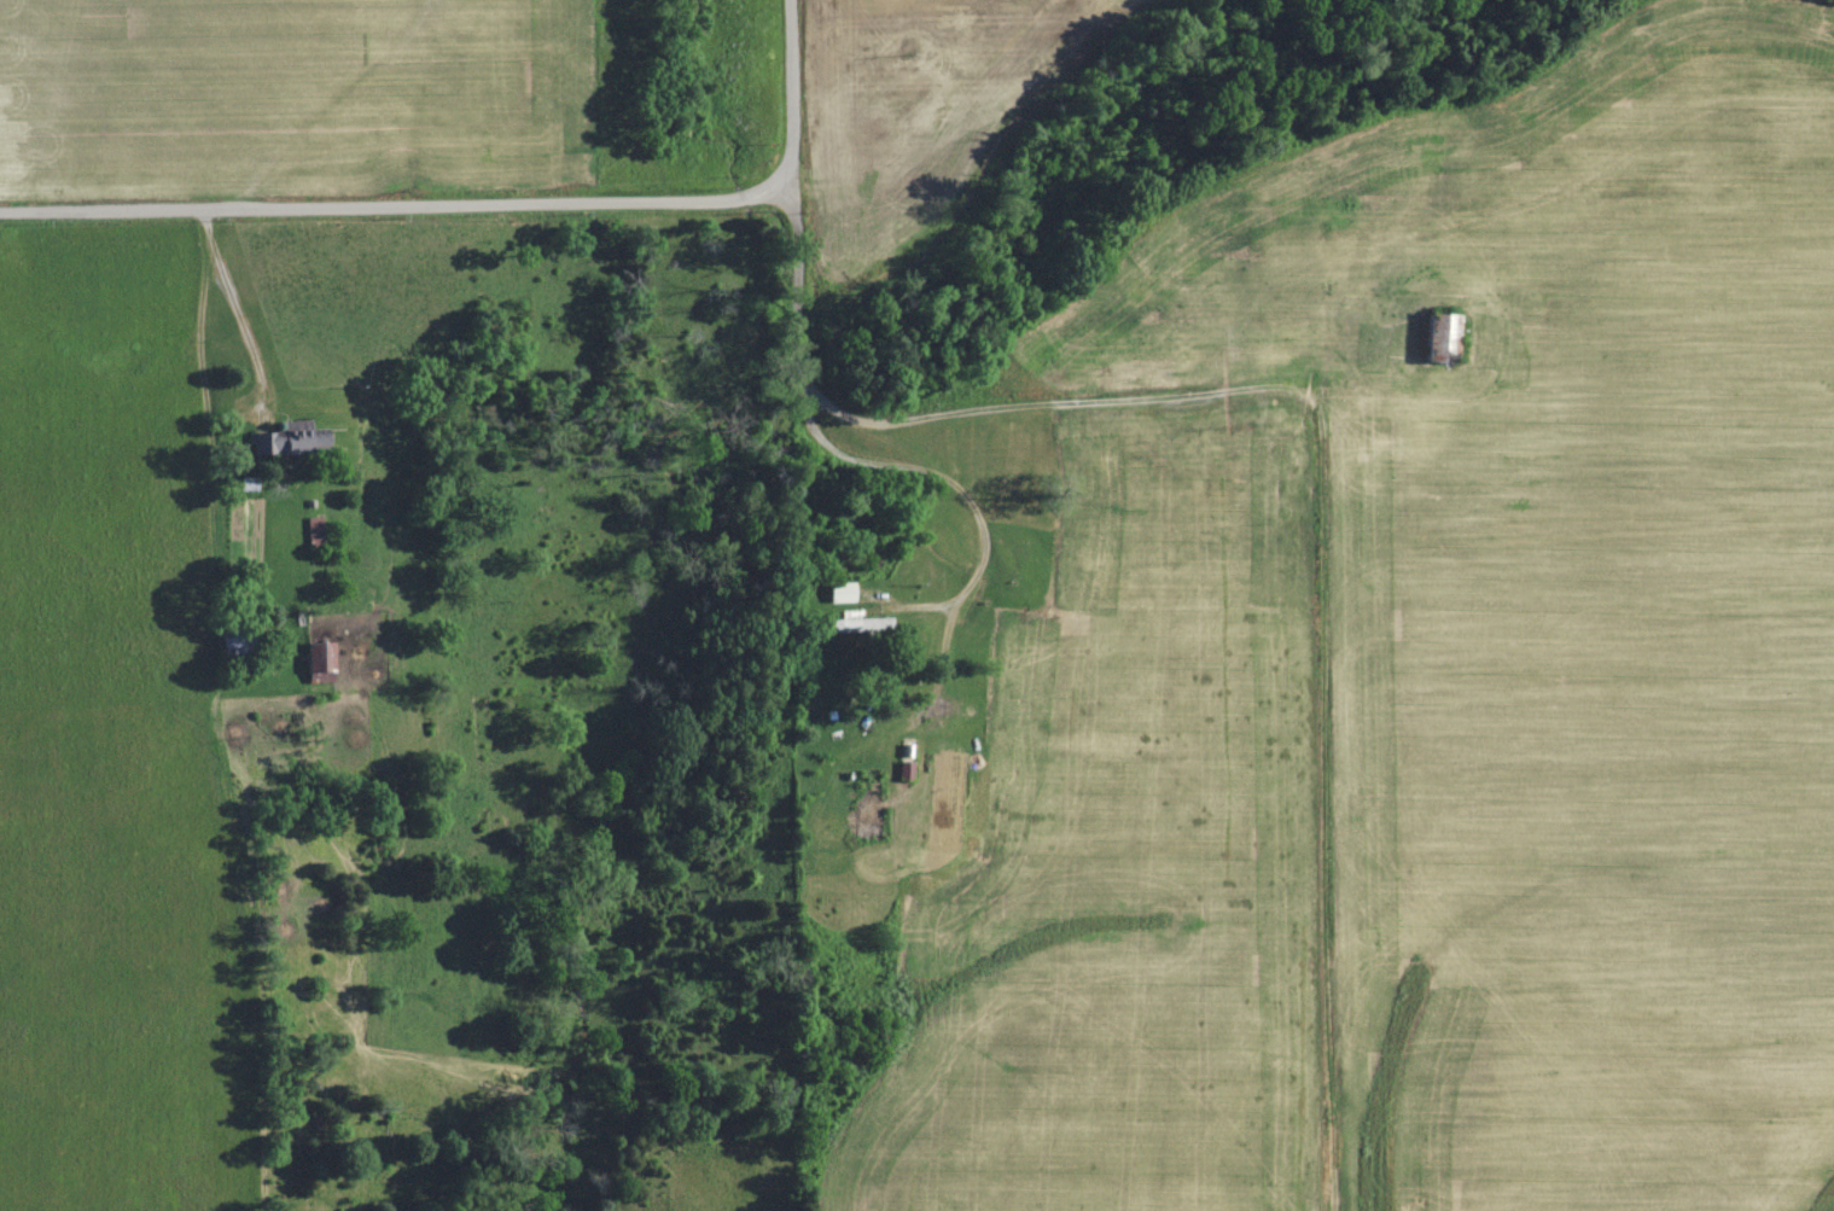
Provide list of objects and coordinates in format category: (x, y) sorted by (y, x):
road: (326, 105)
road: (482, 204)
road: (232, 301)
building: (1432, 334)
road: (1050, 407)
building: (279, 437)
building: (836, 590)
building: (312, 660)
road: (938, 662)

